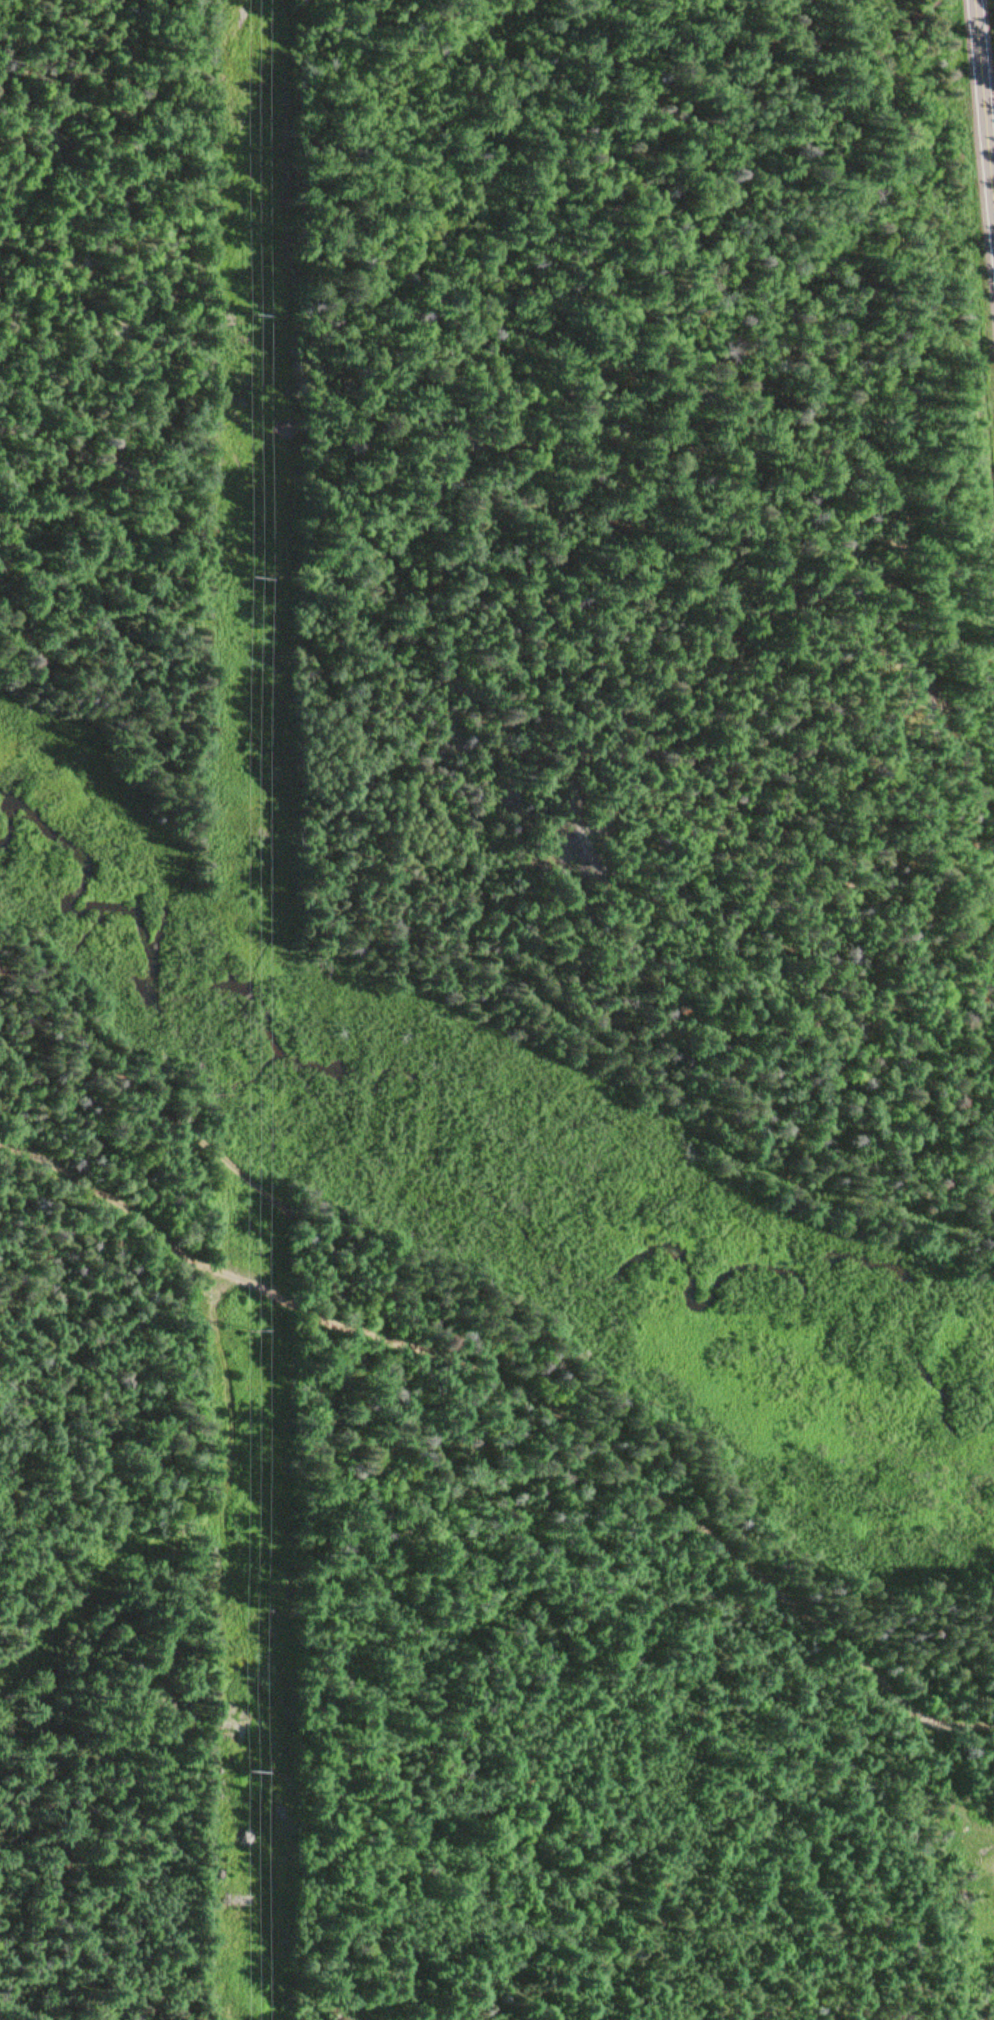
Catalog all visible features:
road: (979, 87)
road: (520, 1398)
road: (963, 1789)

